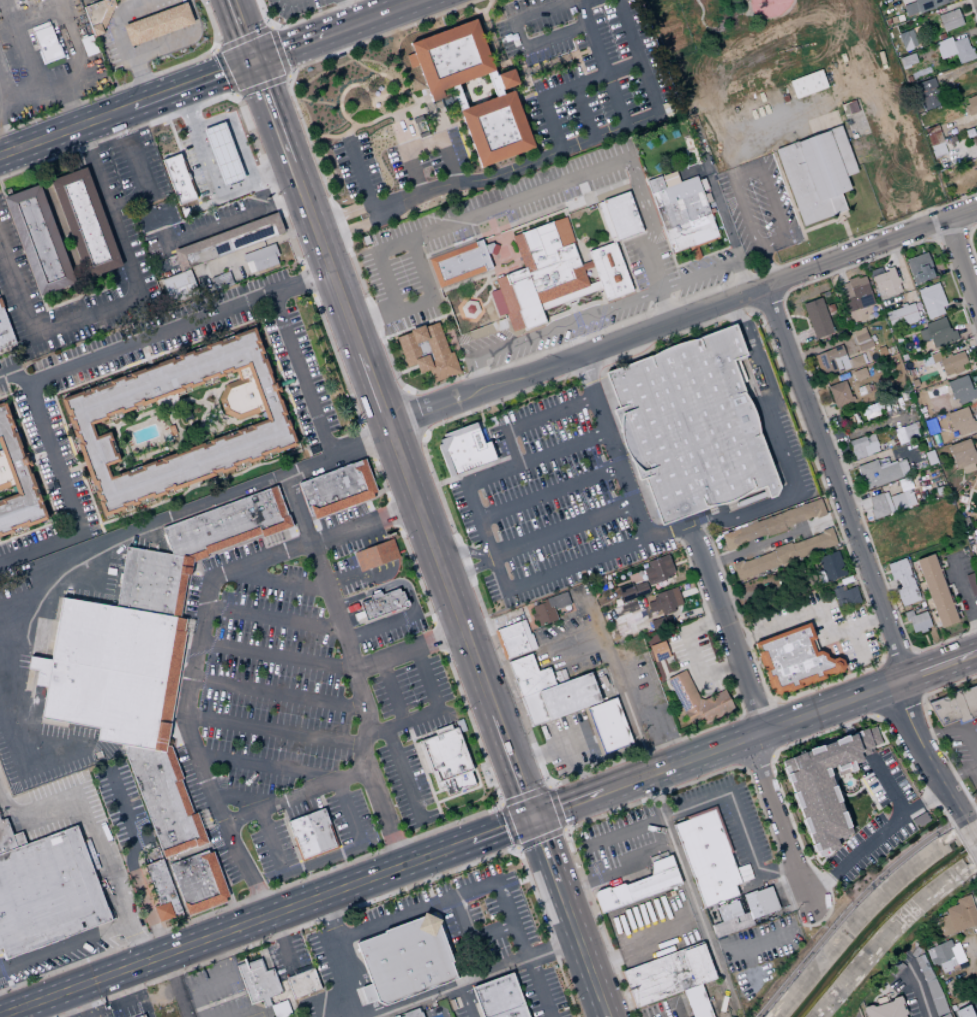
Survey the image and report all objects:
road: (583, 1)
building: (938, 2)
building: (923, 5)
road: (952, 5)
road: (747, 6)
road: (373, 7)
building: (910, 8)
road: (478, 11)
road: (346, 12)
road: (972, 13)
building: (97, 14)
road: (368, 17)
road: (773, 17)
road: (118, 18)
building: (950, 19)
road: (298, 21)
building: (156, 23)
road: (713, 28)
road: (269, 29)
road: (241, 30)
gas station: (146, 34)
road: (964, 34)
road: (519, 36)
building: (902, 37)
road: (244, 40)
building: (46, 45)
building: (87, 45)
road: (217, 47)
road: (286, 47)
building: (945, 47)
building: (962, 50)
road: (276, 52)
road: (496, 54)
building: (449, 57)
road: (638, 58)
road: (556, 60)
parking lot: (581, 60)
traffic signals: (252, 61)
building: (907, 61)
road: (601, 64)
road: (581, 67)
road: (956, 70)
road: (228, 71)
road: (286, 73)
road: (141, 76)
building: (506, 78)
road: (259, 82)
road: (131, 83)
road: (192, 83)
road: (362, 83)
building: (494, 83)
building: (807, 84)
building: (924, 85)
road: (482, 87)
road: (53, 88)
road: (563, 89)
road: (235, 95)
road: (379, 95)
road: (464, 95)
building: (457, 97)
road: (457, 97)
building: (929, 98)
road: (69, 104)
road: (435, 105)
building: (971, 105)
road: (271, 112)
road: (584, 113)
road: (368, 123)
road: (959, 127)
building: (495, 128)
road: (65, 129)
road: (610, 135)
building: (932, 135)
building: (976, 136)
road: (423, 143)
road: (2, 147)
building: (842, 150)
building: (937, 150)
road: (132, 153)
building: (221, 153)
gas station: (207, 157)
road: (80, 158)
building: (822, 165)
road: (761, 166)
parking lot: (394, 168)
road: (359, 174)
building: (177, 179)
road: (466, 181)
building: (804, 187)
road: (2, 190)
road: (531, 193)
road: (787, 194)
road: (571, 205)
road: (720, 206)
building: (681, 212)
road: (343, 213)
road: (959, 215)
building: (621, 216)
road: (920, 218)
building: (83, 222)
road: (824, 222)
road: (933, 222)
road: (844, 226)
road: (217, 227)
road: (508, 229)
road: (349, 230)
road: (950, 230)
road: (967, 230)
road: (935, 237)
building: (37, 240)
building: (226, 241)
building: (541, 243)
road: (968, 243)
road: (254, 245)
road: (870, 247)
road: (326, 257)
building: (259, 259)
road: (961, 261)
building: (459, 263)
road: (765, 263)
road: (890, 263)
road: (947, 264)
building: (919, 267)
building: (609, 271)
road: (839, 271)
building: (876, 272)
road: (905, 276)
road: (775, 280)
building: (220, 281)
building: (887, 282)
road: (426, 284)
road: (483, 284)
road: (89, 286)
building: (178, 286)
building: (855, 287)
building: (539, 288)
building: (928, 289)
road: (782, 294)
road: (79, 297)
road: (754, 299)
road: (767, 299)
road: (128, 300)
road: (958, 301)
building: (853, 303)
building: (932, 303)
building: (0, 306)
road: (755, 308)
building: (817, 309)
road: (588, 313)
building: (901, 315)
road: (422, 323)
building: (936, 325)
road: (178, 326)
road: (966, 330)
building: (859, 332)
building: (4, 333)
building: (938, 336)
road: (812, 337)
building: (861, 338)
road: (827, 345)
building: (865, 345)
road: (960, 347)
building: (427, 352)
road: (576, 357)
building: (937, 357)
road: (458, 360)
building: (830, 360)
building: (856, 361)
road: (817, 362)
building: (953, 363)
road: (403, 370)
road: (300, 374)
road: (807, 374)
road: (816, 376)
road: (454, 377)
road: (13, 378)
road: (550, 380)
road: (437, 385)
road: (373, 388)
building: (962, 389)
road: (605, 390)
road: (406, 392)
building: (839, 394)
road: (380, 404)
building: (868, 411)
road: (408, 414)
road: (532, 420)
building: (269, 422)
road: (479, 422)
building: (961, 422)
building: (690, 425)
building: (931, 426)
road: (420, 433)
building: (905, 433)
road: (487, 434)
road: (393, 439)
road: (625, 444)
building: (863, 446)
road: (611, 447)
road: (776, 448)
building: (463, 449)
building: (914, 449)
building: (962, 453)
building: (930, 457)
road: (864, 459)
building: (902, 467)
road: (473, 469)
building: (878, 472)
road: (274, 477)
building: (15, 482)
road: (834, 483)
building: (336, 489)
building: (976, 489)
road: (874, 491)
road: (548, 493)
road: (67, 497)
building: (909, 497)
parking lot: (543, 498)
building: (886, 499)
building: (898, 501)
building: (909, 504)
road: (966, 504)
building: (878, 505)
parking lot: (546, 507)
road: (864, 509)
building: (802, 512)
building: (226, 524)
building: (773, 524)
road: (657, 527)
road: (562, 531)
building: (743, 534)
building: (975, 539)
road: (765, 543)
building: (814, 543)
building: (976, 545)
road: (459, 549)
road: (379, 552)
building: (783, 553)
building: (375, 555)
road: (492, 558)
building: (754, 565)
building: (831, 565)
road: (440, 569)
building: (898, 569)
road: (468, 570)
building: (658, 570)
road: (885, 572)
road: (58, 574)
road: (346, 578)
road: (276, 580)
building: (151, 581)
building: (905, 581)
road: (419, 582)
road: (404, 584)
road: (886, 588)
building: (640, 589)
road: (373, 590)
building: (936, 590)
road: (963, 591)
building: (626, 592)
building: (907, 595)
building: (850, 596)
road: (351, 598)
building: (666, 599)
building: (557, 600)
road: (895, 600)
building: (382, 603)
building: (351, 607)
road: (900, 607)
road: (814, 610)
building: (542, 613)
road: (55, 615)
building: (357, 616)
road: (272, 617)
road: (492, 622)
building: (919, 622)
building: (658, 623)
road: (380, 625)
road: (725, 627)
building: (923, 631)
building: (512, 640)
road: (925, 640)
road: (857, 644)
road: (195, 646)
road: (568, 647)
road: (408, 650)
road: (692, 654)
road: (276, 655)
road: (898, 656)
building: (660, 657)
building: (794, 659)
road: (938, 667)
building: (37, 669)
road: (631, 670)
building: (112, 672)
road: (911, 675)
building: (529, 676)
road: (391, 691)
road: (360, 692)
road: (277, 693)
road: (867, 693)
building: (568, 696)
road: (920, 697)
building: (697, 701)
road: (898, 705)
building: (956, 706)
building: (533, 709)
road: (760, 710)
road: (431, 711)
road: (877, 716)
road: (884, 724)
building: (608, 726)
building: (441, 729)
road: (955, 729)
road: (273, 730)
road: (929, 731)
road: (751, 735)
parking lot: (569, 742)
road: (736, 742)
road: (552, 749)
road: (925, 753)
building: (445, 755)
road: (755, 758)
road: (266, 766)
road: (512, 766)
road: (742, 766)
road: (421, 767)
road: (23, 774)
road: (579, 774)
road: (404, 776)
road: (960, 776)
road: (549, 783)
building: (455, 784)
building: (822, 789)
road: (437, 791)
road: (524, 794)
road: (243, 797)
road: (449, 797)
building: (163, 800)
road: (926, 802)
road: (119, 803)
road: (500, 803)
road: (567, 804)
road: (556, 807)
road: (621, 807)
road: (384, 817)
traffic signals: (532, 817)
road: (738, 818)
road: (895, 821)
road: (508, 825)
road: (779, 829)
road: (331, 830)
road: (971, 830)
road: (97, 835)
building: (310, 835)
road: (541, 837)
building: (9, 838)
road: (605, 839)
road: (292, 844)
parking lot: (620, 845)
road: (516, 848)
road: (965, 848)
road: (545, 852)
building: (707, 858)
road: (322, 860)
road: (618, 871)
building: (197, 882)
building: (640, 885)
building: (160, 891)
building: (46, 893)
road: (456, 893)
road: (691, 895)
road: (143, 899)
road: (369, 900)
road: (855, 900)
road: (974, 900)
building: (767, 901)
building: (752, 905)
road: (265, 915)
building: (957, 917)
parking lot: (653, 926)
building: (976, 935)
road: (470, 936)
road: (771, 936)
road: (281, 941)
road: (64, 944)
road: (970, 947)
building: (910, 948)
road: (582, 952)
building: (915, 952)
building: (941, 952)
road: (341, 955)
road: (217, 956)
building: (959, 956)
building: (405, 961)
road: (604, 961)
building: (947, 963)
building: (923, 968)
building: (895, 969)
road: (354, 974)
building: (668, 974)
road: (476, 979)
building: (257, 982)
building: (302, 983)
road: (176, 985)
road: (202, 985)
road: (539, 988)
road: (919, 989)
road: (367, 994)
building: (498, 997)
building: (935, 997)
parking lot: (219, 998)
road: (86, 1000)
road: (467, 1001)
building: (696, 1001)
road: (195, 1003)
road: (425, 1008)
road: (372, 1009)
building: (886, 1009)
road: (35, 1010)
road: (248, 1010)
gas station: (94, 1011)
building: (278, 1011)
building: (964, 1012)
building: (411, 1013)
road: (266, 1014)
building: (945, 1015)
building: (140, 1016)

